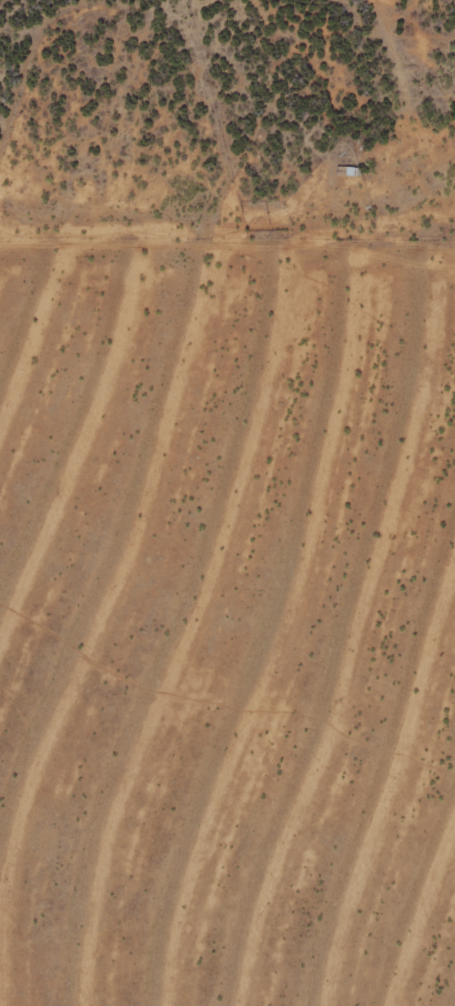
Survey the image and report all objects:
road: (227, 217)

